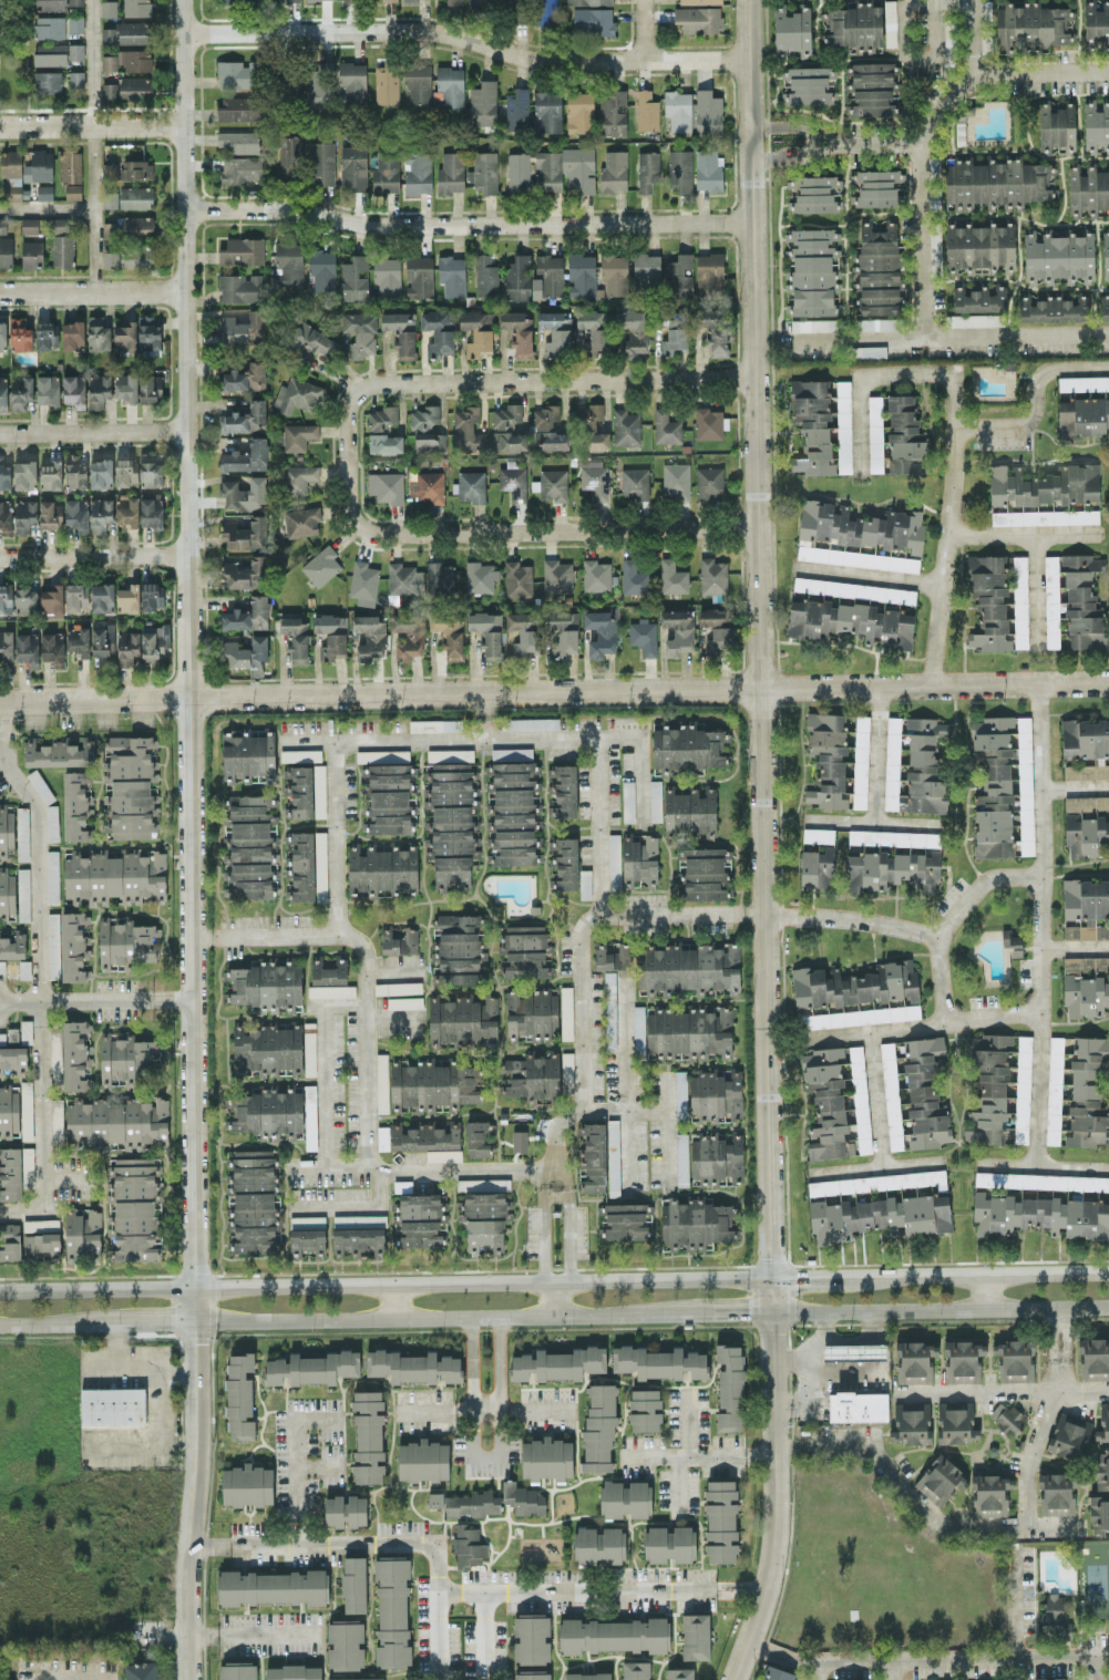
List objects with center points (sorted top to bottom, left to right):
building: (308, 0)
building: (351, 0)
building: (389, 0)
building: (239, 1)
building: (700, 1)
building: (454, 2)
building: (588, 2)
building: (55, 3)
building: (481, 3)
building: (109, 8)
building: (136, 8)
building: (520, 10)
building: (698, 19)
building: (593, 20)
building: (1097, 20)
building: (890, 22)
building: (75, 23)
building: (1031, 24)
building: (50, 27)
building: (855, 27)
road: (645, 29)
road: (937, 29)
building: (792, 30)
road: (904, 31)
building: (127, 32)
road: (468, 38)
building: (75, 51)
building: (50, 53)
building: (127, 60)
road: (91, 61)
building: (238, 73)
road: (1041, 73)
road: (968, 79)
building: (48, 81)
building: (418, 81)
building: (352, 82)
building: (387, 82)
building: (290, 84)
building: (320, 84)
building: (807, 85)
building: (135, 87)
building: (449, 87)
building: (872, 89)
building: (110, 90)
building: (483, 103)
building: (238, 107)
building: (516, 109)
building: (647, 110)
building: (678, 110)
building: (548, 111)
building: (579, 111)
building: (613, 113)
building: (707, 113)
road: (91, 122)
building: (1056, 124)
road: (781, 126)
road: (825, 133)
road: (877, 140)
building: (239, 141)
road: (812, 141)
road: (826, 147)
building: (290, 154)
road: (782, 157)
building: (70, 165)
building: (39, 166)
building: (353, 166)
building: (135, 168)
building: (240, 168)
building: (12, 169)
building: (565, 169)
building: (680, 169)
building: (708, 169)
building: (614, 171)
building: (647, 171)
building: (386, 172)
building: (418, 172)
building: (451, 172)
building: (484, 172)
building: (518, 172)
building: (995, 182)
building: (875, 187)
building: (1087, 189)
building: (73, 190)
building: (44, 192)
building: (814, 193)
building: (135, 196)
building: (110, 197)
road: (45, 206)
road: (91, 207)
building: (60, 224)
road: (468, 224)
building: (2, 225)
building: (29, 225)
building: (129, 226)
road: (918, 239)
building: (979, 246)
building: (6, 250)
building: (242, 250)
building: (32, 254)
building: (1106, 255)
building: (130, 256)
building: (1059, 256)
building: (288, 262)
building: (646, 267)
building: (322, 268)
building: (879, 268)
building: (812, 270)
building: (614, 274)
building: (709, 274)
building: (387, 275)
building: (452, 275)
building: (485, 275)
building: (582, 275)
building: (419, 276)
building: (547, 276)
building: (679, 276)
building: (517, 277)
building: (355, 278)
building: (240, 287)
road: (92, 292)
building: (979, 298)
building: (1105, 306)
building: (1054, 308)
building: (973, 319)
building: (875, 323)
building: (814, 324)
building: (244, 328)
building: (713, 329)
building: (595, 330)
building: (634, 330)
building: (401, 331)
building: (439, 331)
building: (478, 331)
building: (517, 332)
building: (556, 332)
building: (20, 333)
building: (47, 333)
building: (99, 333)
building: (360, 333)
building: (73, 334)
building: (2, 336)
building: (148, 336)
building: (125, 337)
road: (945, 338)
building: (312, 339)
building: (869, 351)
building: (245, 377)
road: (858, 377)
road: (517, 380)
building: (1084, 382)
building: (125, 386)
building: (150, 388)
building: (48, 390)
building: (74, 390)
building: (99, 390)
building: (21, 391)
building: (3, 393)
building: (297, 394)
road: (1033, 401)
building: (506, 415)
building: (1082, 415)
building: (245, 418)
building: (382, 418)
building: (710, 423)
building: (468, 425)
building: (812, 425)
building: (626, 426)
building: (666, 426)
building: (843, 426)
building: (547, 427)
building: (592, 427)
road: (95, 429)
building: (427, 429)
building: (875, 433)
building: (298, 435)
building: (905, 435)
building: (509, 441)
building: (386, 443)
building: (246, 456)
building: (75, 471)
building: (150, 471)
building: (126, 472)
building: (24, 473)
building: (101, 473)
building: (4, 474)
building: (51, 474)
building: (594, 476)
building: (298, 477)
building: (676, 481)
building: (513, 482)
building: (709, 482)
building: (634, 483)
building: (552, 484)
building: (1045, 484)
building: (425, 485)
building: (470, 485)
building: (387, 486)
building: (245, 493)
building: (152, 512)
building: (51, 513)
building: (101, 513)
building: (24, 514)
building: (76, 514)
building: (6, 521)
building: (302, 521)
road: (947, 528)
road: (525, 529)
building: (246, 533)
road: (1020, 534)
road: (95, 553)
building: (858, 558)
building: (321, 565)
building: (247, 573)
building: (596, 575)
building: (712, 575)
road: (863, 575)
building: (556, 576)
building: (672, 576)
building: (440, 577)
building: (481, 577)
building: (634, 577)
building: (517, 578)
building: (403, 580)
building: (363, 581)
building: (854, 589)
road: (1035, 589)
building: (152, 595)
building: (76, 596)
building: (102, 597)
building: (6, 598)
building: (52, 598)
building: (129, 598)
building: (25, 599)
building: (1051, 600)
building: (998, 601)
building: (1082, 601)
building: (248, 615)
building: (852, 621)
building: (717, 628)
building: (678, 630)
building: (487, 631)
building: (449, 632)
building: (523, 632)
building: (563, 632)
building: (600, 632)
building: (331, 633)
building: (408, 635)
building: (369, 636)
building: (644, 636)
building: (296, 638)
building: (103, 639)
building: (78, 640)
building: (155, 641)
building: (6, 646)
building: (127, 647)
building: (28, 648)
building: (53, 648)
building: (246, 651)
road: (554, 689)
road: (10, 709)
building: (533, 723)
building: (435, 724)
road: (465, 736)
building: (688, 748)
building: (1085, 748)
building: (59, 751)
building: (511, 753)
building: (300, 754)
building: (382, 754)
building: (450, 754)
road: (876, 754)
building: (248, 755)
building: (838, 760)
building: (915, 765)
road: (641, 781)
building: (41, 785)
building: (132, 785)
building: (1004, 786)
building: (319, 790)
building: (563, 790)
building: (298, 791)
road: (1077, 792)
building: (515, 793)
building: (388, 798)
building: (655, 800)
building: (690, 810)
building: (52, 824)
road: (603, 824)
building: (451, 825)
road: (881, 825)
building: (1087, 825)
building: (7, 832)
building: (22, 833)
road: (340, 835)
road: (192, 839)
road: (767, 843)
building: (250, 846)
building: (514, 846)
building: (817, 857)
building: (639, 858)
building: (321, 860)
building: (614, 862)
building: (566, 863)
building: (302, 865)
building: (382, 869)
building: (893, 869)
building: (704, 873)
building: (52, 876)
building: (7, 894)
building: (23, 894)
building: (1086, 908)
road: (687, 914)
road: (854, 918)
road: (952, 918)
road: (1044, 921)
road: (267, 935)
building: (399, 939)
building: (1013, 939)
building: (460, 940)
building: (53, 945)
building: (11, 946)
road: (1076, 948)
building: (524, 950)
building: (613, 955)
building: (690, 967)
building: (18, 969)
building: (329, 969)
road: (398, 970)
building: (460, 977)
building: (267, 983)
road: (45, 985)
building: (1086, 985)
building: (398, 987)
building: (331, 990)
building: (859, 992)
road: (99, 998)
road: (173, 998)
road: (23, 999)
building: (404, 1002)
building: (610, 1009)
building: (566, 1011)
building: (531, 1013)
road: (396, 1018)
building: (462, 1019)
road: (922, 1025)
building: (639, 1029)
building: (687, 1031)
road: (585, 1039)
building: (267, 1047)
road: (369, 1048)
building: (309, 1049)
building: (74, 1053)
building: (55, 1057)
building: (127, 1059)
road: (321, 1060)
road: (626, 1076)
building: (531, 1078)
building: (382, 1082)
building: (999, 1089)
building: (681, 1093)
building: (1077, 1093)
building: (716, 1095)
building: (914, 1095)
building: (860, 1099)
road: (879, 1099)
building: (828, 1100)
road: (661, 1107)
building: (27, 1109)
building: (267, 1112)
building: (309, 1114)
building: (57, 1121)
building: (116, 1122)
building: (425, 1135)
building: (476, 1138)
building: (520, 1140)
road: (665, 1142)
road: (628, 1147)
building: (613, 1150)
building: (443, 1154)
building: (593, 1156)
road: (326, 1164)
road: (1043, 1164)
road: (875, 1166)
building: (681, 1167)
building: (13, 1169)
road: (489, 1169)
road: (550, 1195)
building: (254, 1202)
road: (353, 1206)
building: (135, 1208)
building: (873, 1213)
building: (1040, 1215)
building: (420, 1220)
building: (486, 1220)
building: (626, 1220)
building: (696, 1223)
building: (83, 1234)
building: (41, 1238)
building: (10, 1240)
building: (308, 1240)
building: (358, 1240)
road: (543, 1240)
road: (569, 1240)
road: (833, 1272)
road: (278, 1282)
road: (983, 1290)
road: (558, 1296)
road: (390, 1299)
road: (554, 1311)
building: (854, 1351)
building: (1093, 1358)
building: (1015, 1359)
building: (963, 1360)
building: (658, 1361)
building: (915, 1361)
building: (558, 1363)
road: (115, 1365)
building: (413, 1365)
building: (312, 1367)
building: (730, 1387)
road: (1005, 1390)
road: (485, 1392)
building: (239, 1395)
road: (160, 1402)
building: (113, 1405)
road: (492, 1405)
building: (858, 1405)
building: (645, 1409)
road: (1046, 1416)
building: (1008, 1418)
building: (911, 1422)
building: (956, 1422)
building: (1102, 1424)
building: (599, 1428)
building: (368, 1435)
building: (1069, 1435)
road: (851, 1439)
road: (689, 1452)
building: (547, 1457)
building: (423, 1460)
building: (1102, 1470)
building: (941, 1480)
road: (300, 1481)
building: (247, 1485)
building: (1057, 1493)
building: (990, 1494)
building: (625, 1497)
building: (435, 1498)
building: (524, 1498)
building: (473, 1503)
building: (346, 1509)
building: (1099, 1513)
building: (720, 1521)
road: (381, 1540)
building: (669, 1543)
building: (468, 1546)
building: (353, 1584)
building: (273, 1586)
road: (602, 1588)
road: (1019, 1604)
building: (1054, 1606)
building: (392, 1611)
building: (1062, 1629)
road: (259, 1632)
building: (613, 1632)
building: (695, 1632)
road: (484, 1635)
building: (531, 1638)
building: (346, 1645)
road: (777, 1649)
road: (955, 1658)
road: (1099, 1663)
building: (635, 1669)
building: (142, 1670)
building: (238, 1670)
road: (894, 1670)
road: (818, 1671)
building: (294, 1672)
building: (679, 1672)
building: (777, 1673)
building: (587, 1674)
building: (532, 1676)
road: (69, 1678)
building: (356, 1678)
building: (1049, 1678)

